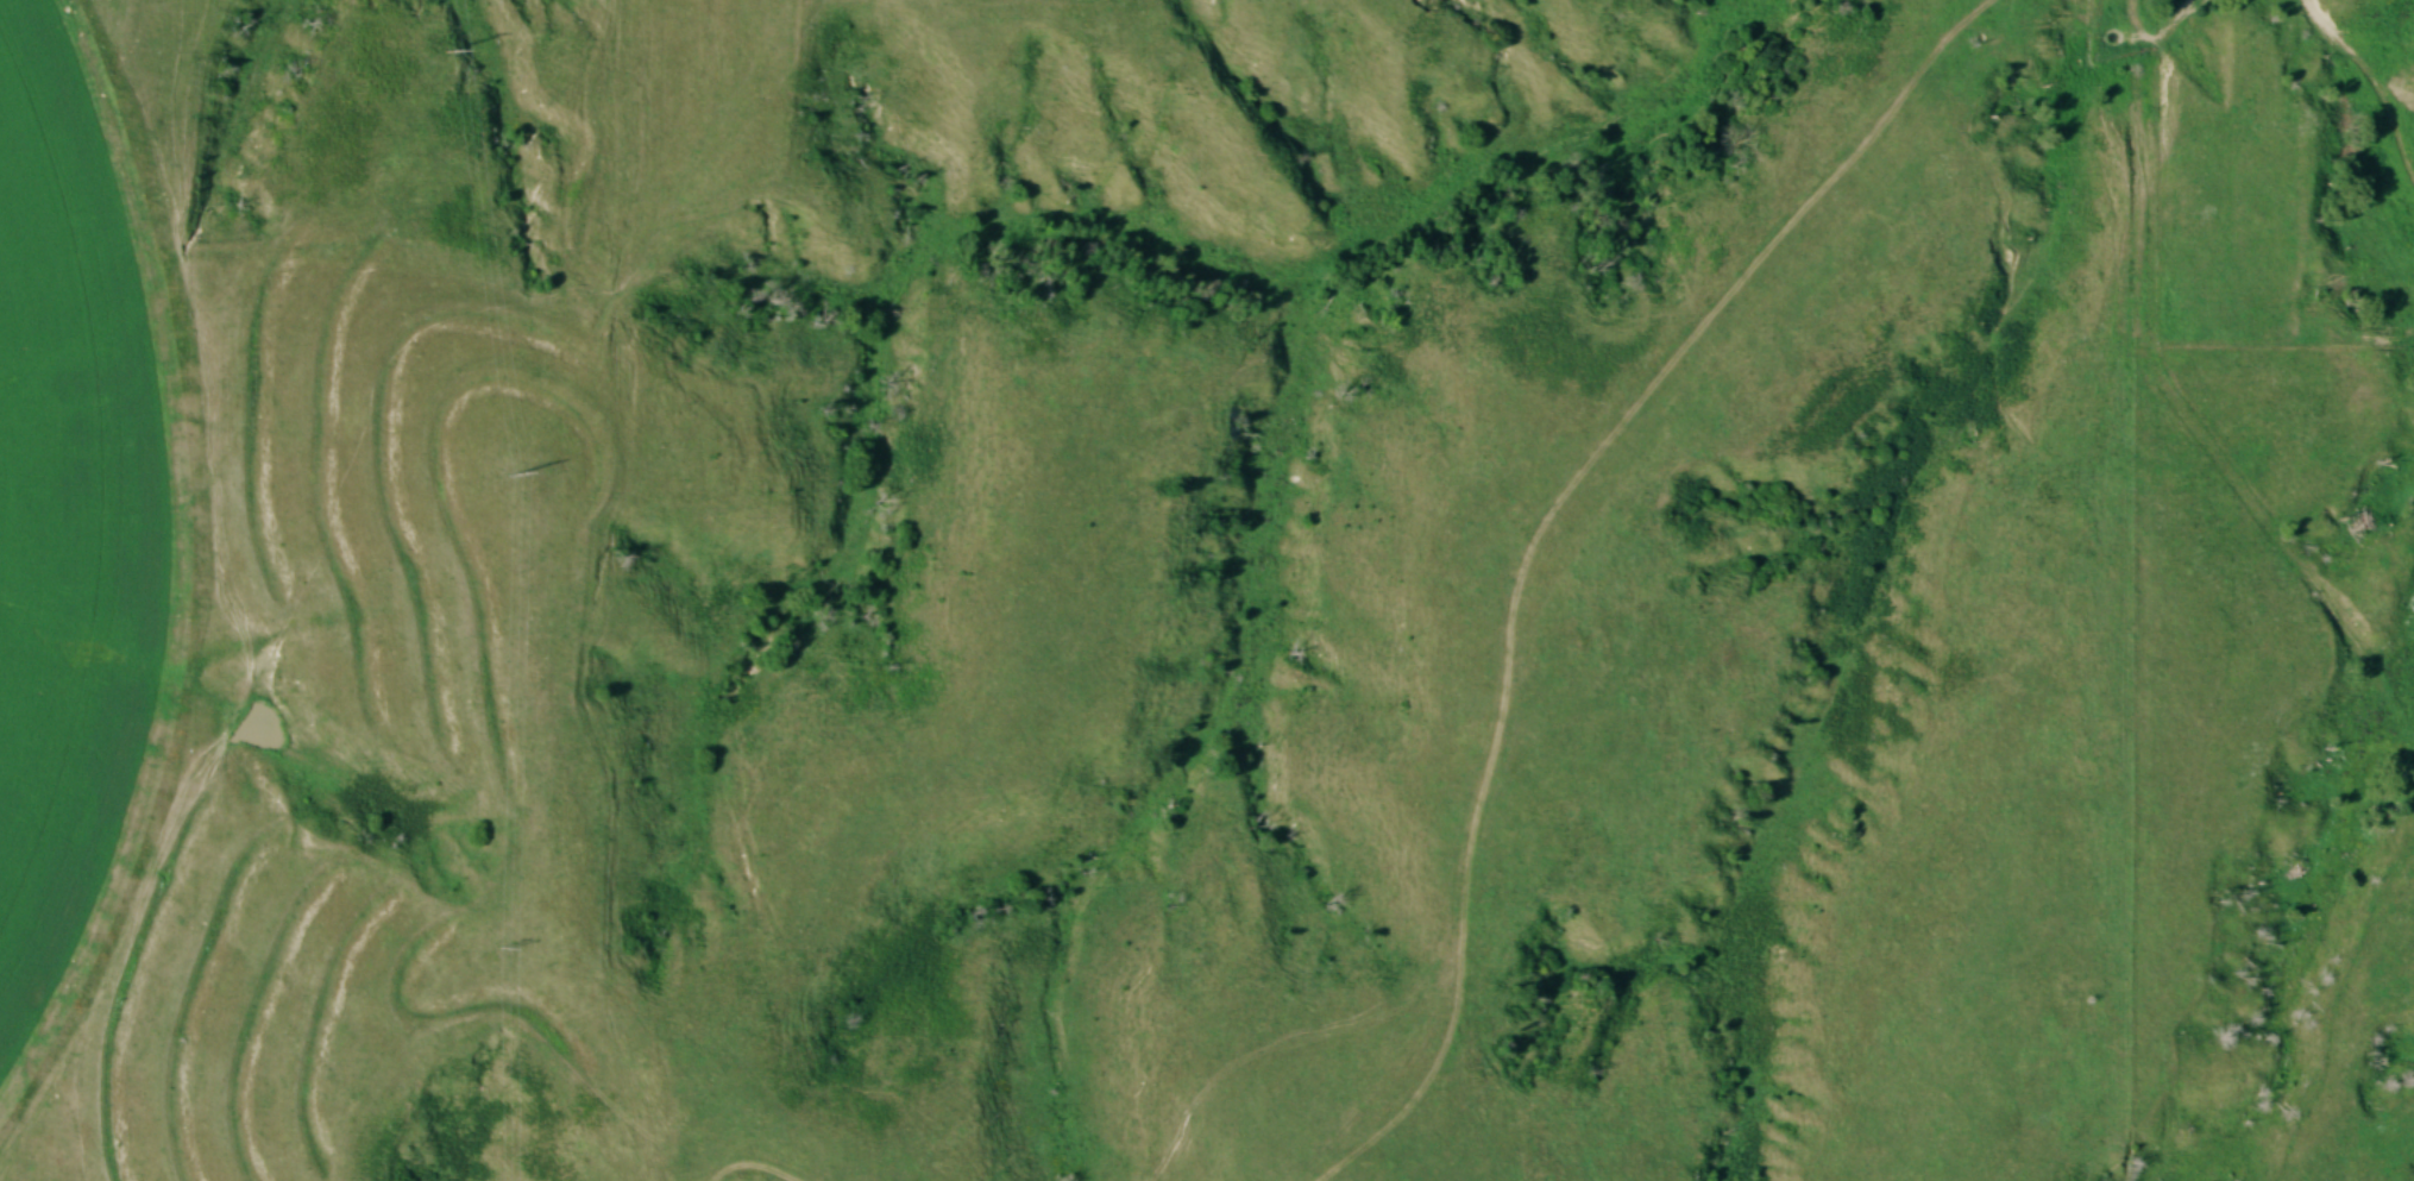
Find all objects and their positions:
power tower: (445, 51)
power tower: (517, 475)
power tower: (505, 951)

